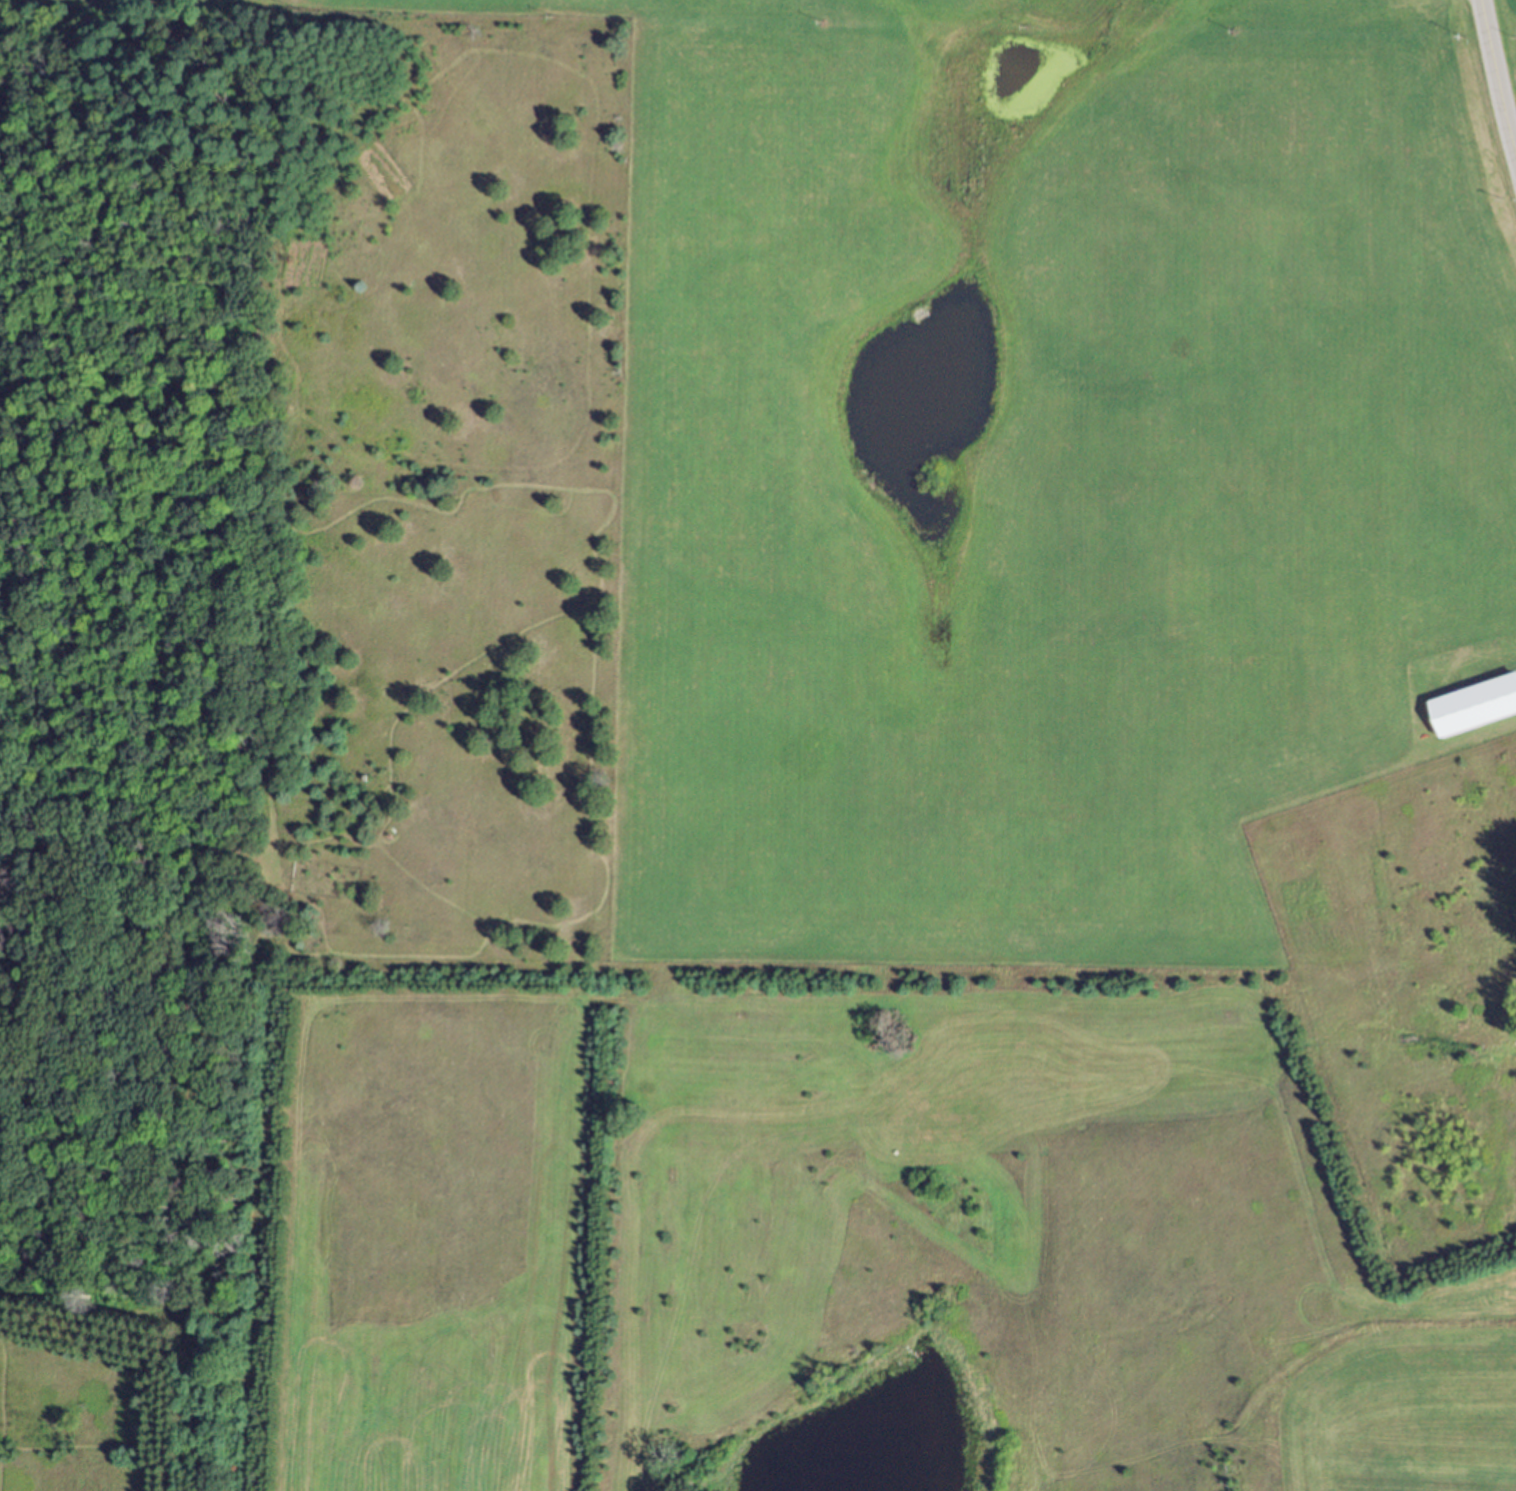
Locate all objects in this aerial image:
road: (1493, 86)
building: (1477, 713)

